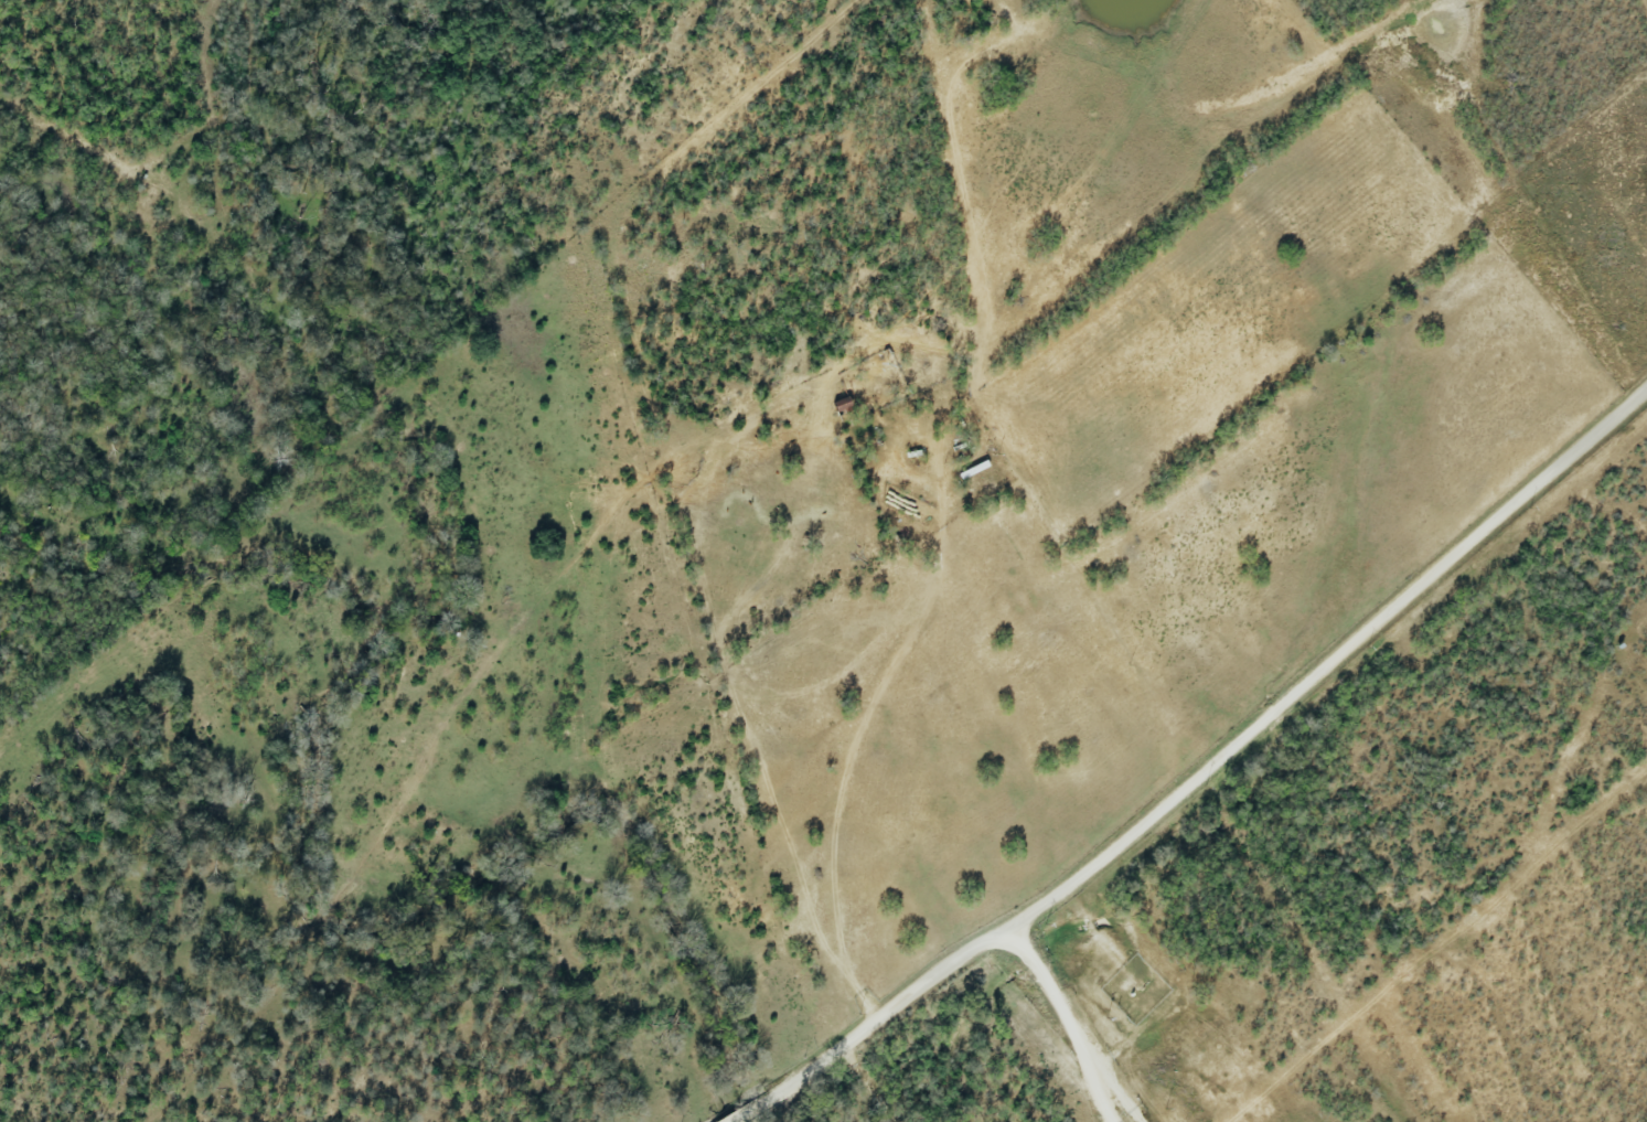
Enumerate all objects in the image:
road: (867, 717)
road: (1201, 776)
road: (1076, 1026)

